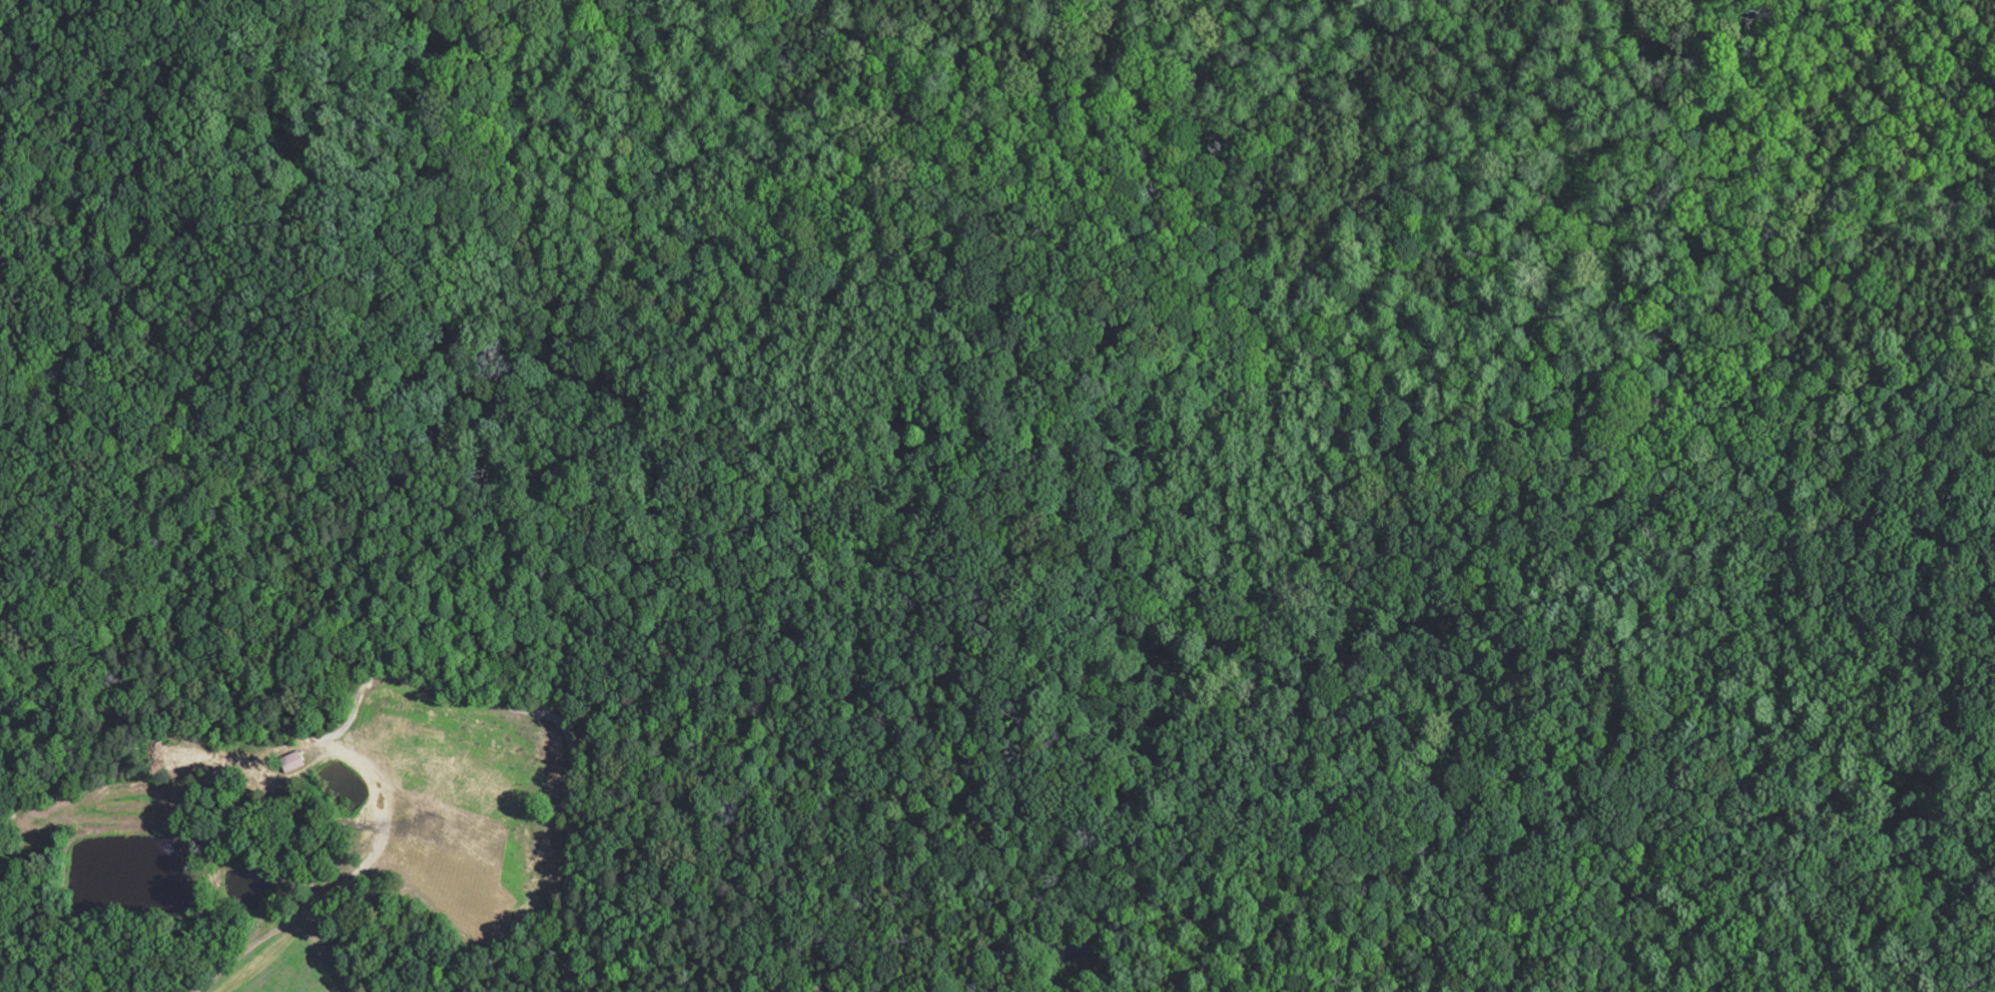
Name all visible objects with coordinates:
road: (422, 733)

